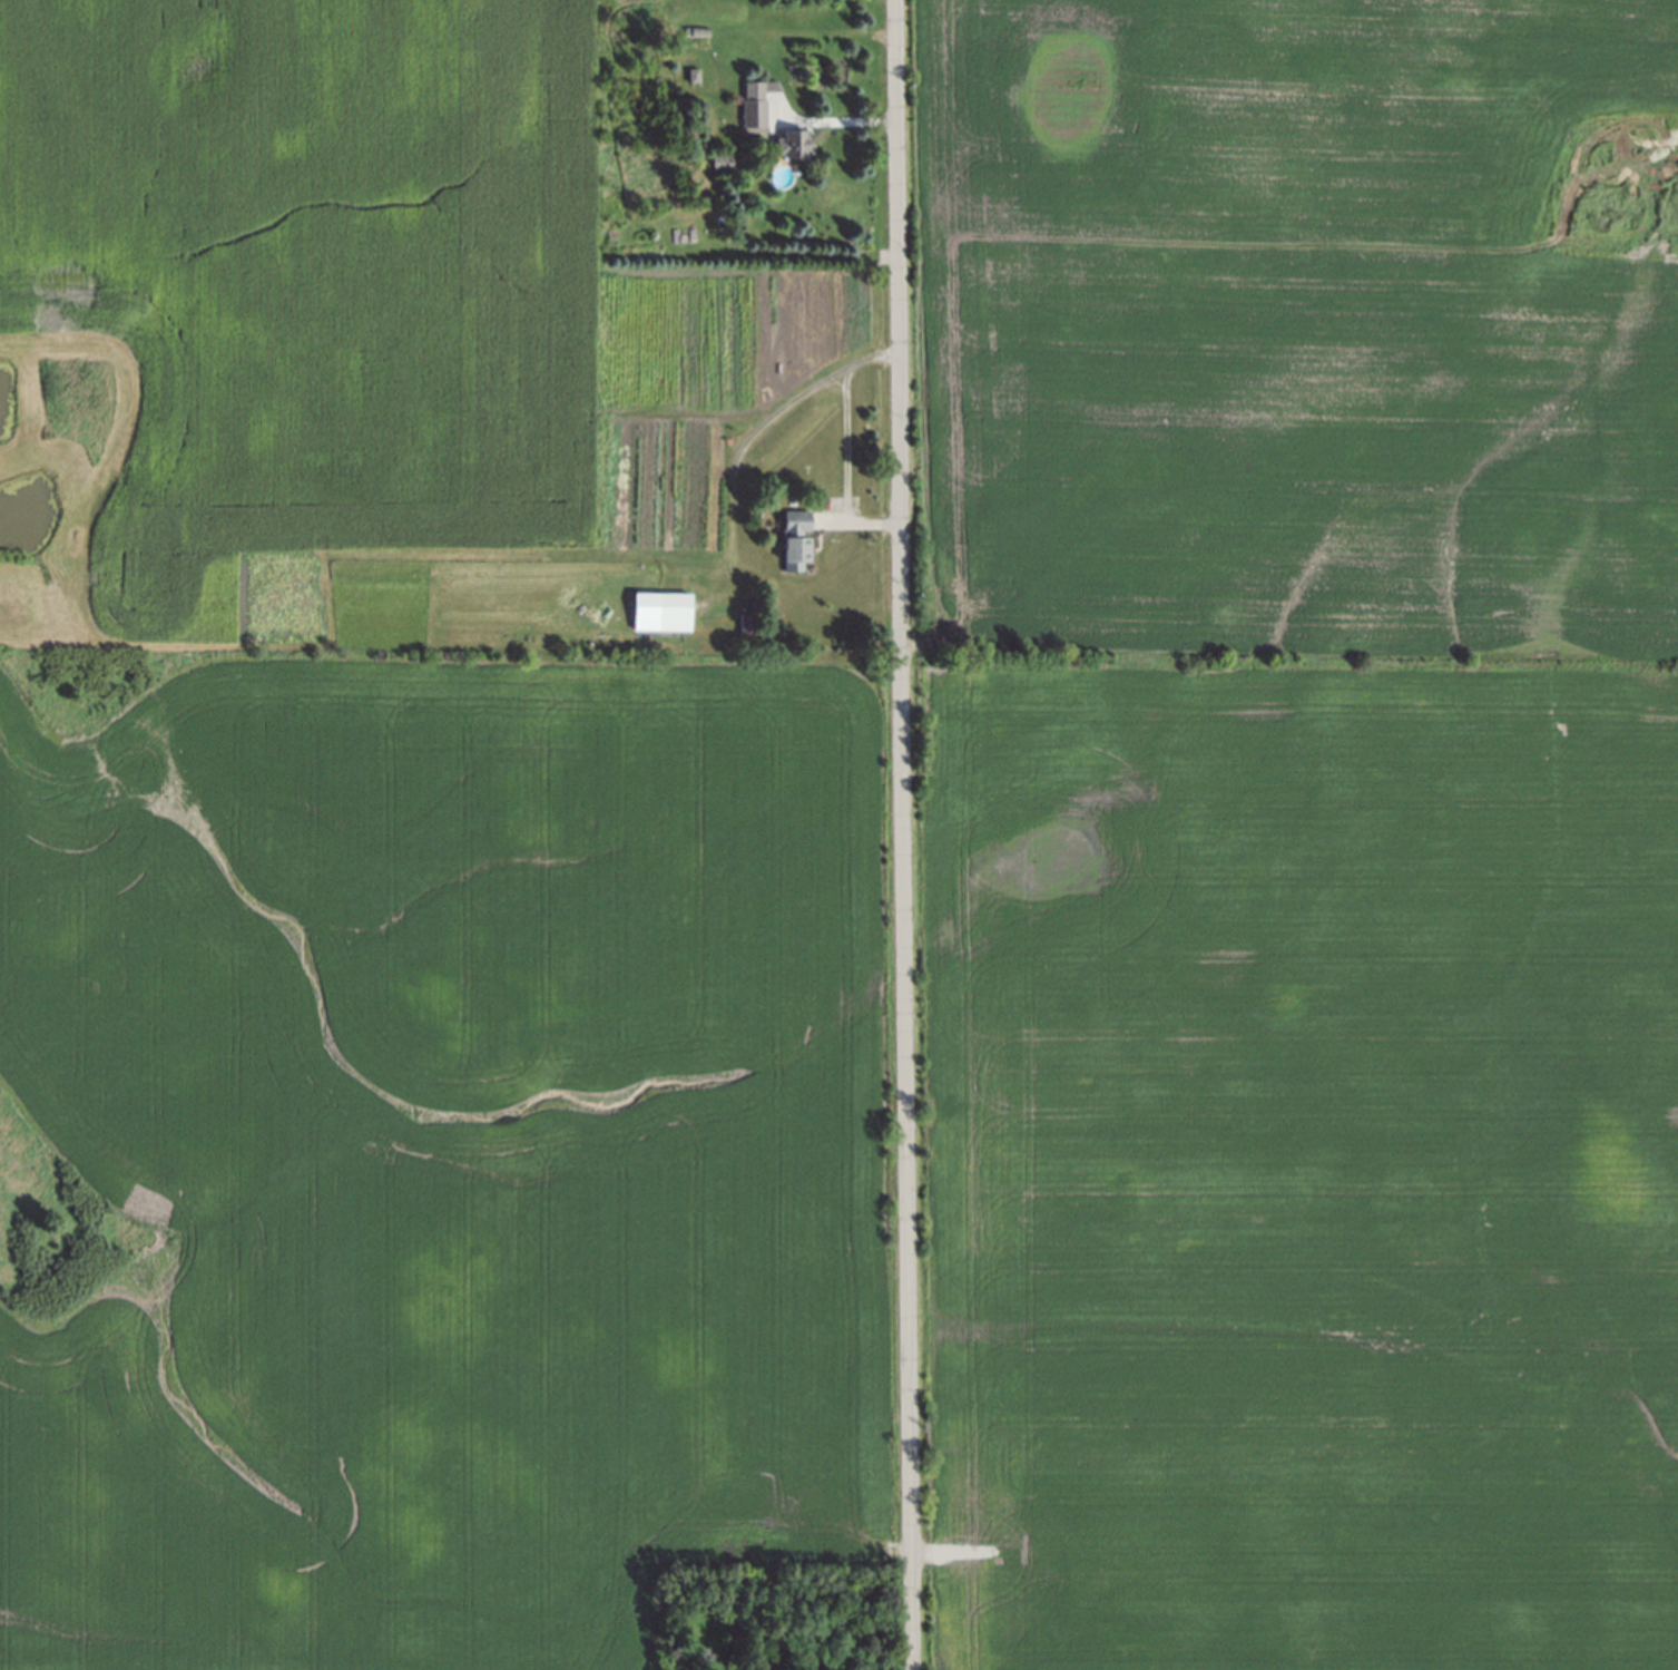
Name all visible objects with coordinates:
building: (691, 29)
building: (688, 72)
building: (749, 102)
road: (833, 123)
building: (791, 143)
building: (715, 160)
road: (844, 440)
building: (792, 538)
building: (673, 613)
building: (743, 622)
road: (903, 834)
building: (732, 1667)

